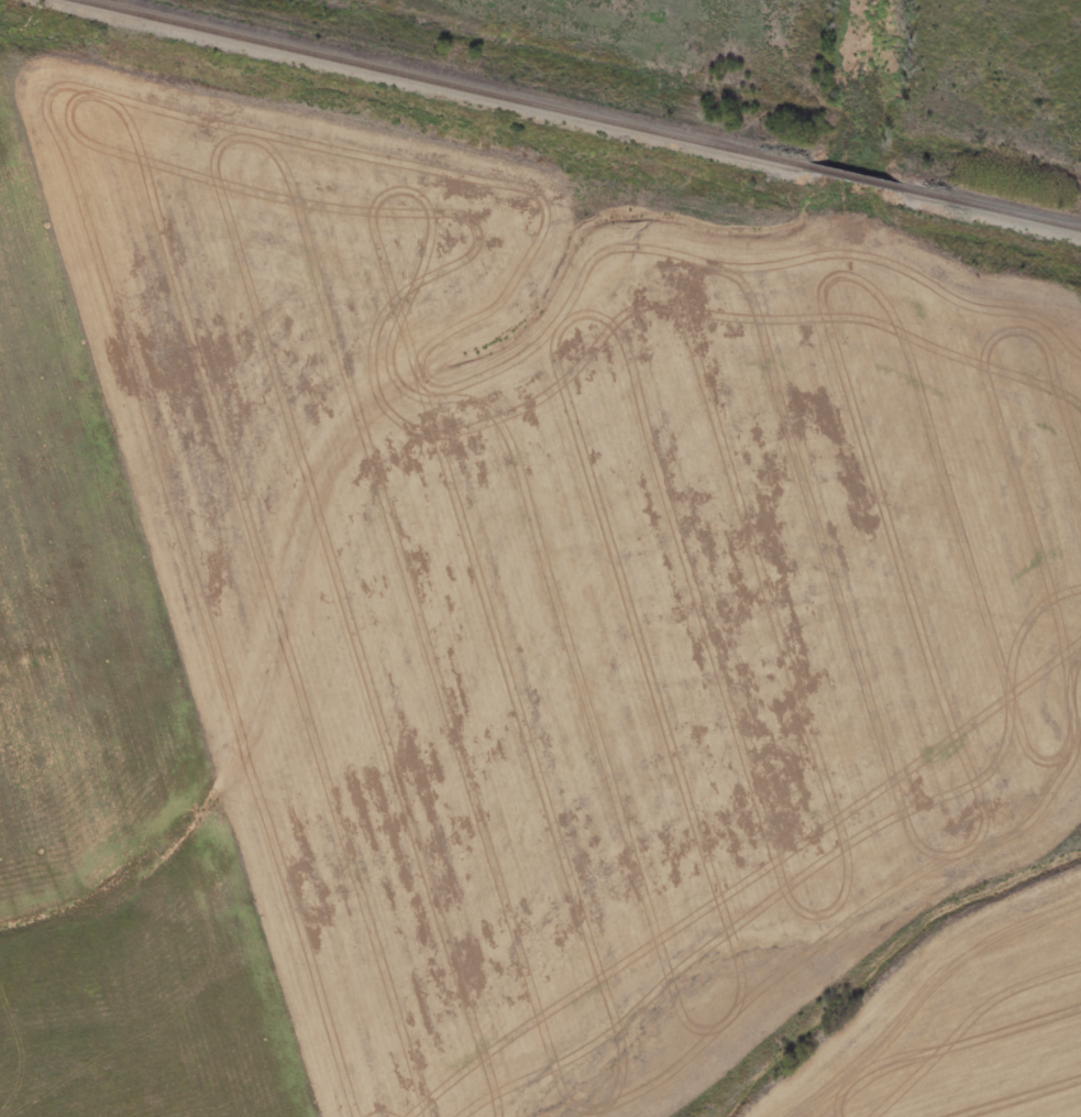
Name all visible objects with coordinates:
railway: (578, 114)

